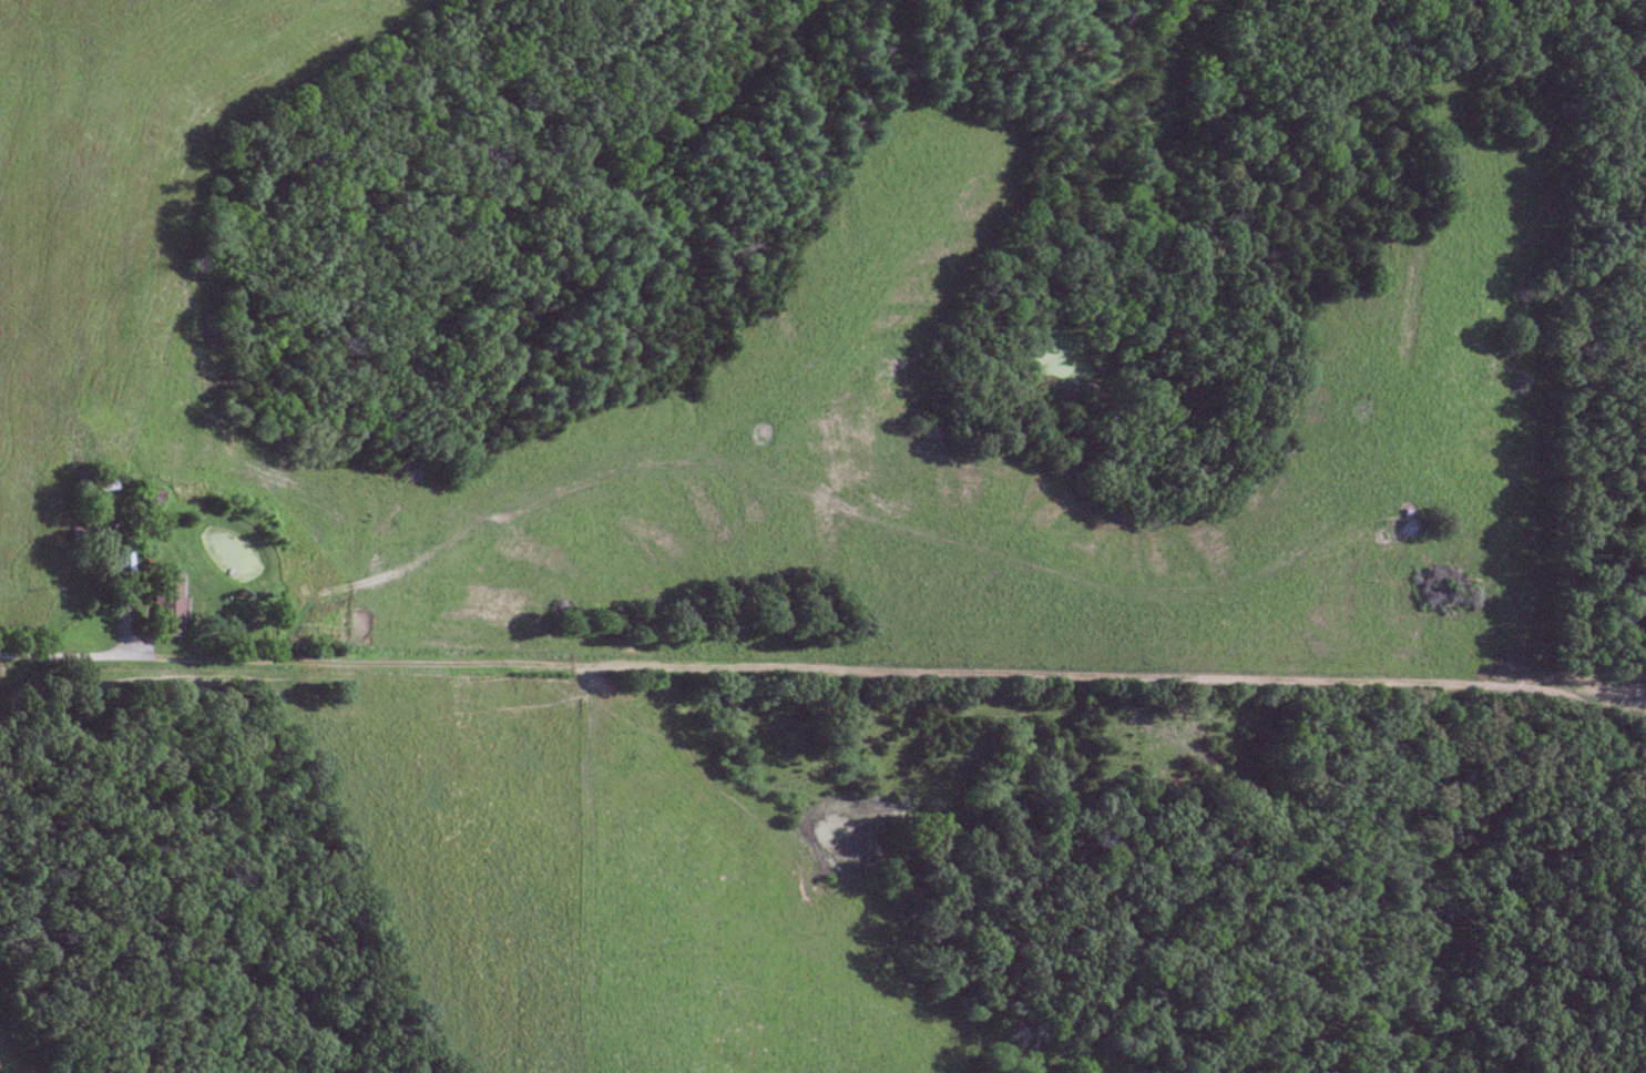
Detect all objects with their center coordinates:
building: (84, 532)
building: (119, 561)
building: (174, 594)
road: (62, 652)
road: (885, 663)

